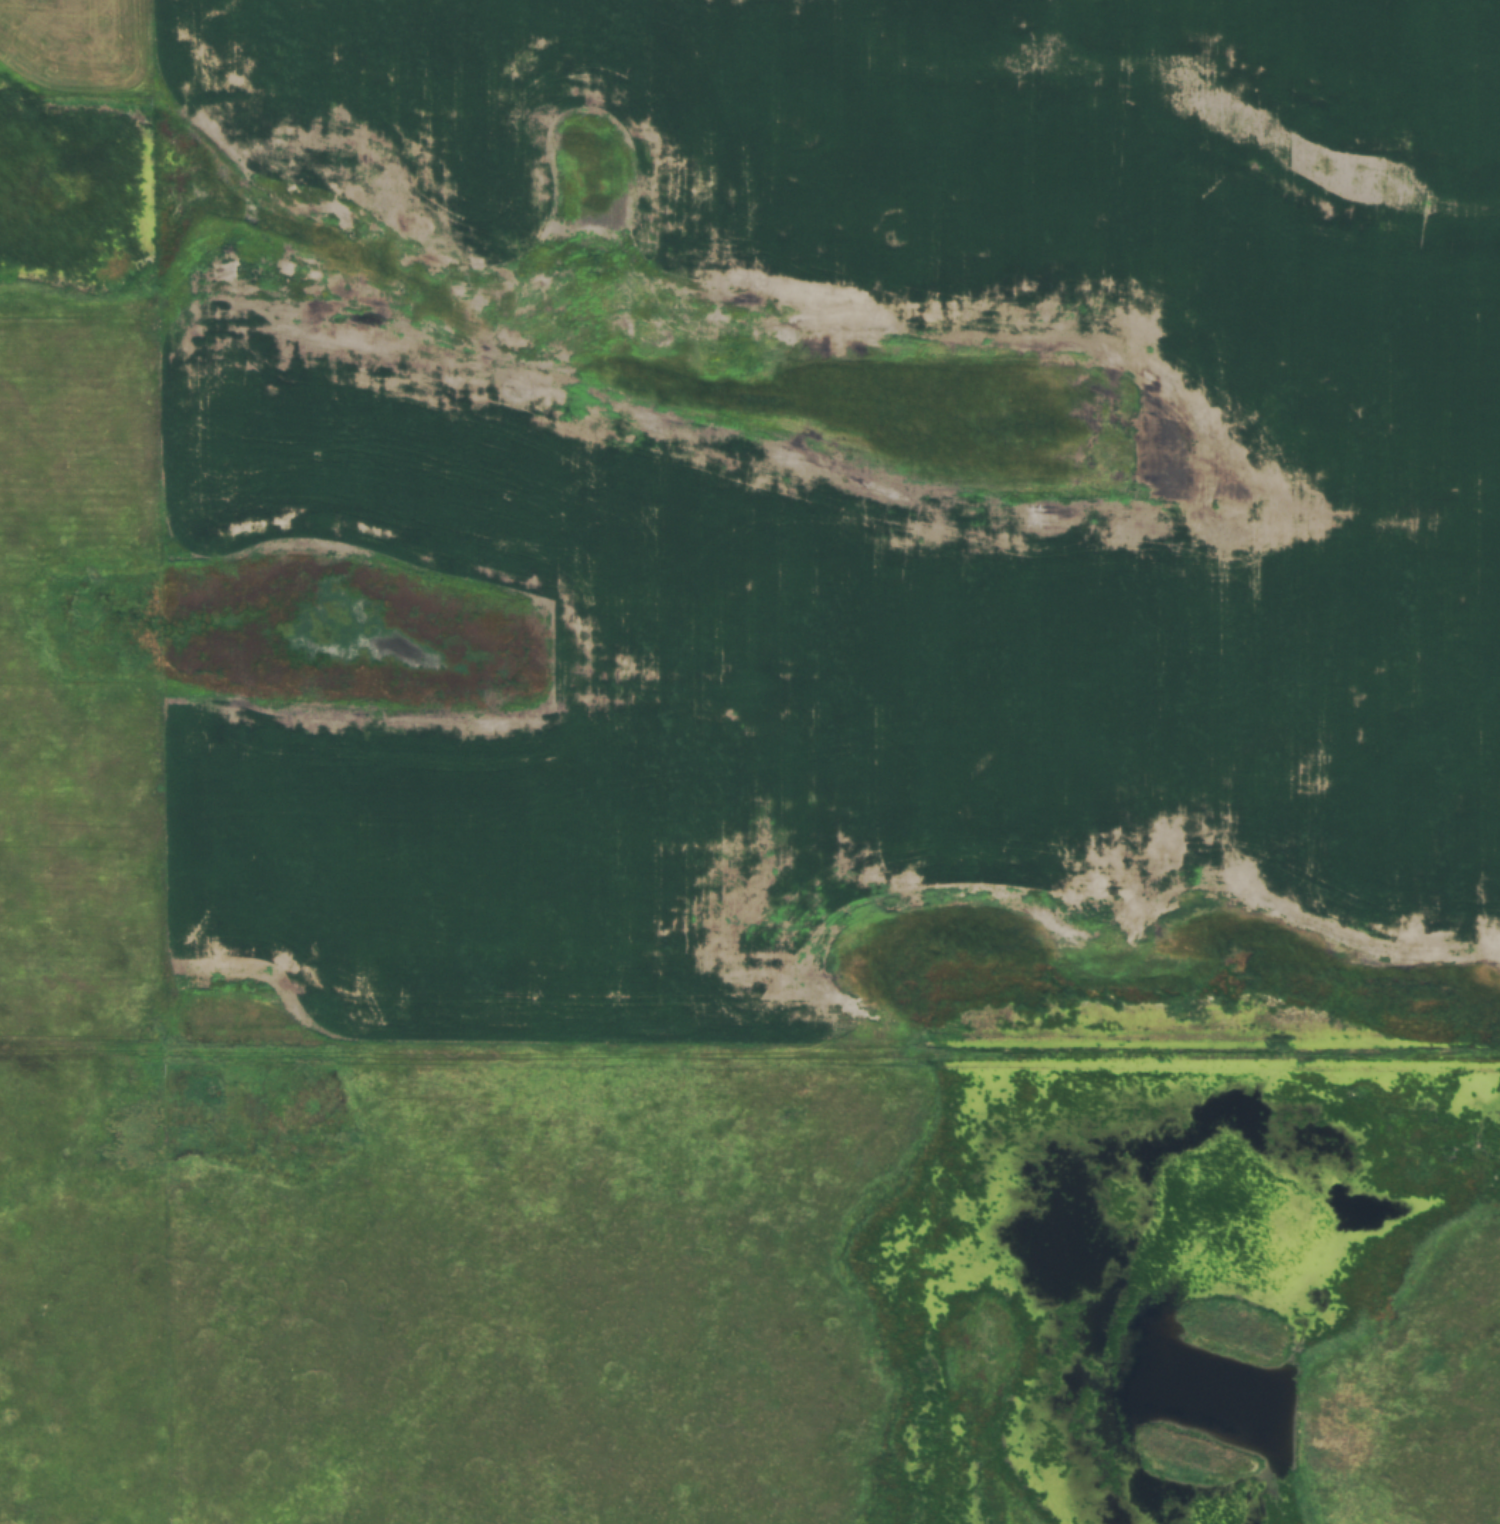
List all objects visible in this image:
road: (749, 1063)

